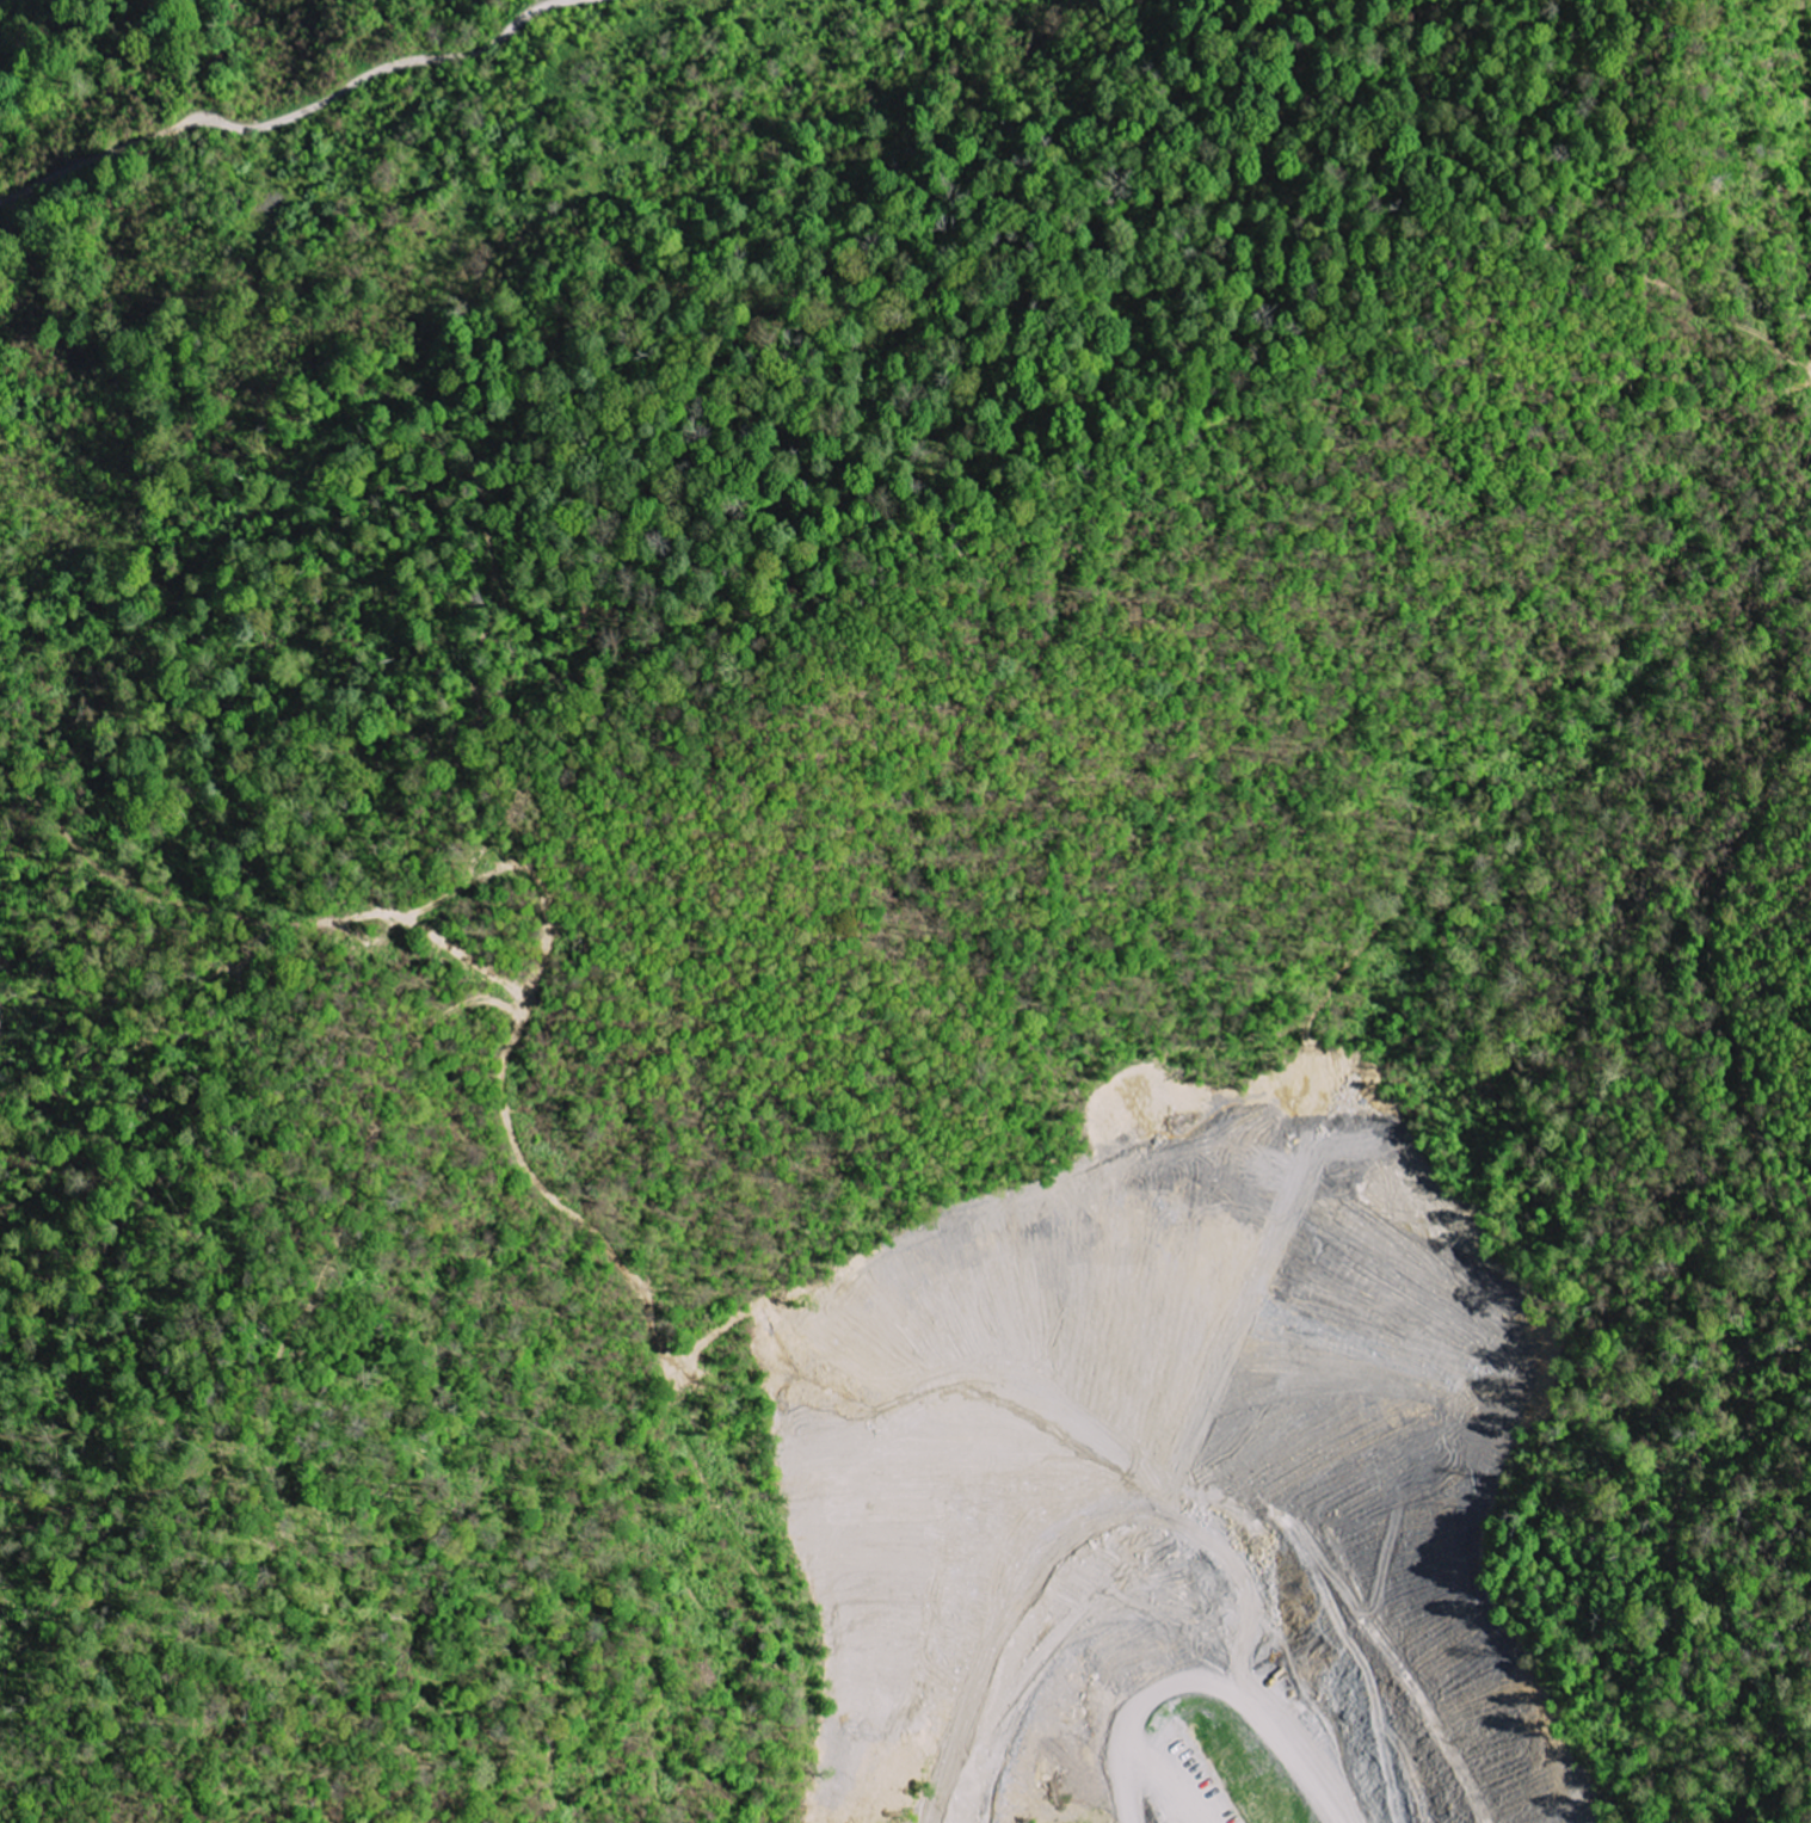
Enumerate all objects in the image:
road: (1333, 1431)

